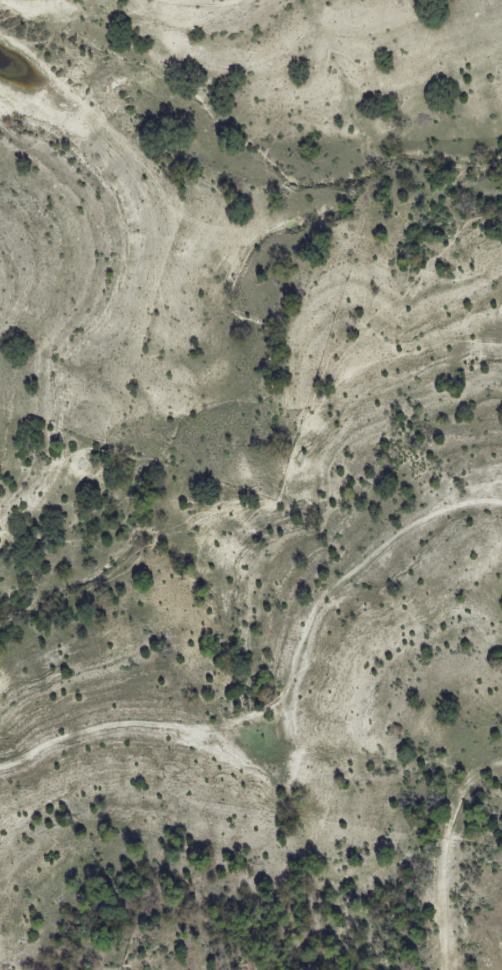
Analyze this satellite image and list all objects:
road: (293, 720)

